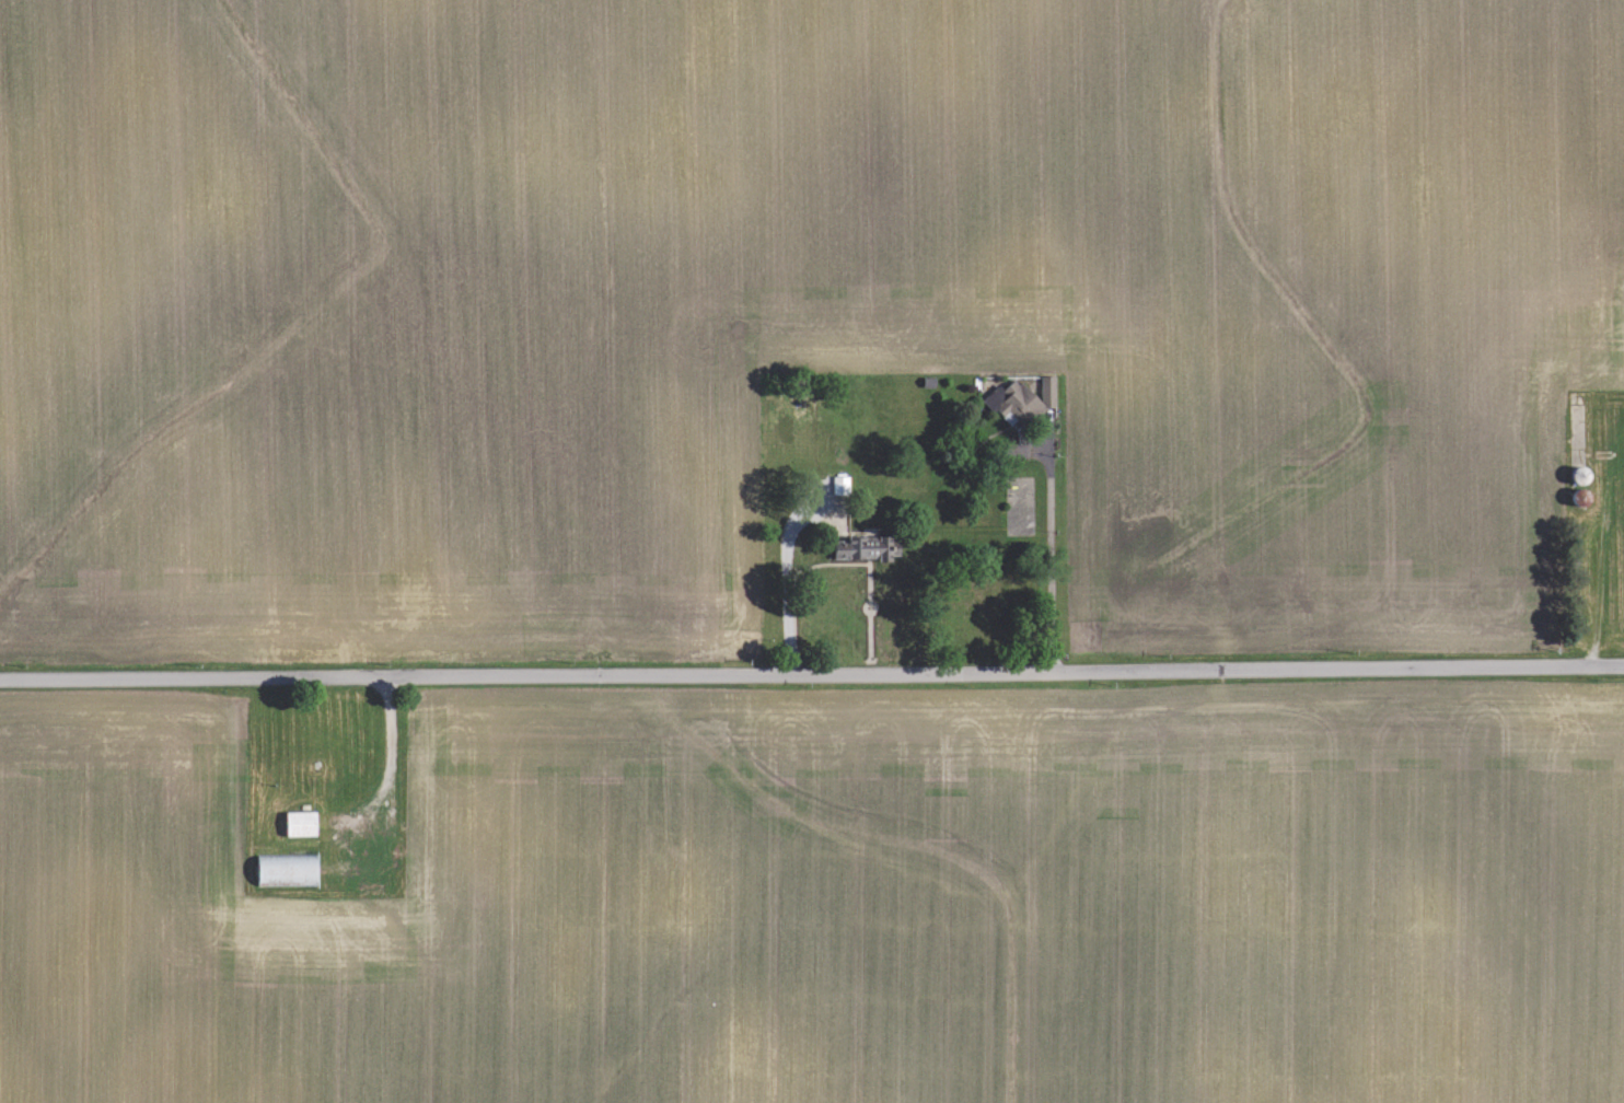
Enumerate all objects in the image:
road: (812, 667)
building: (306, 823)

